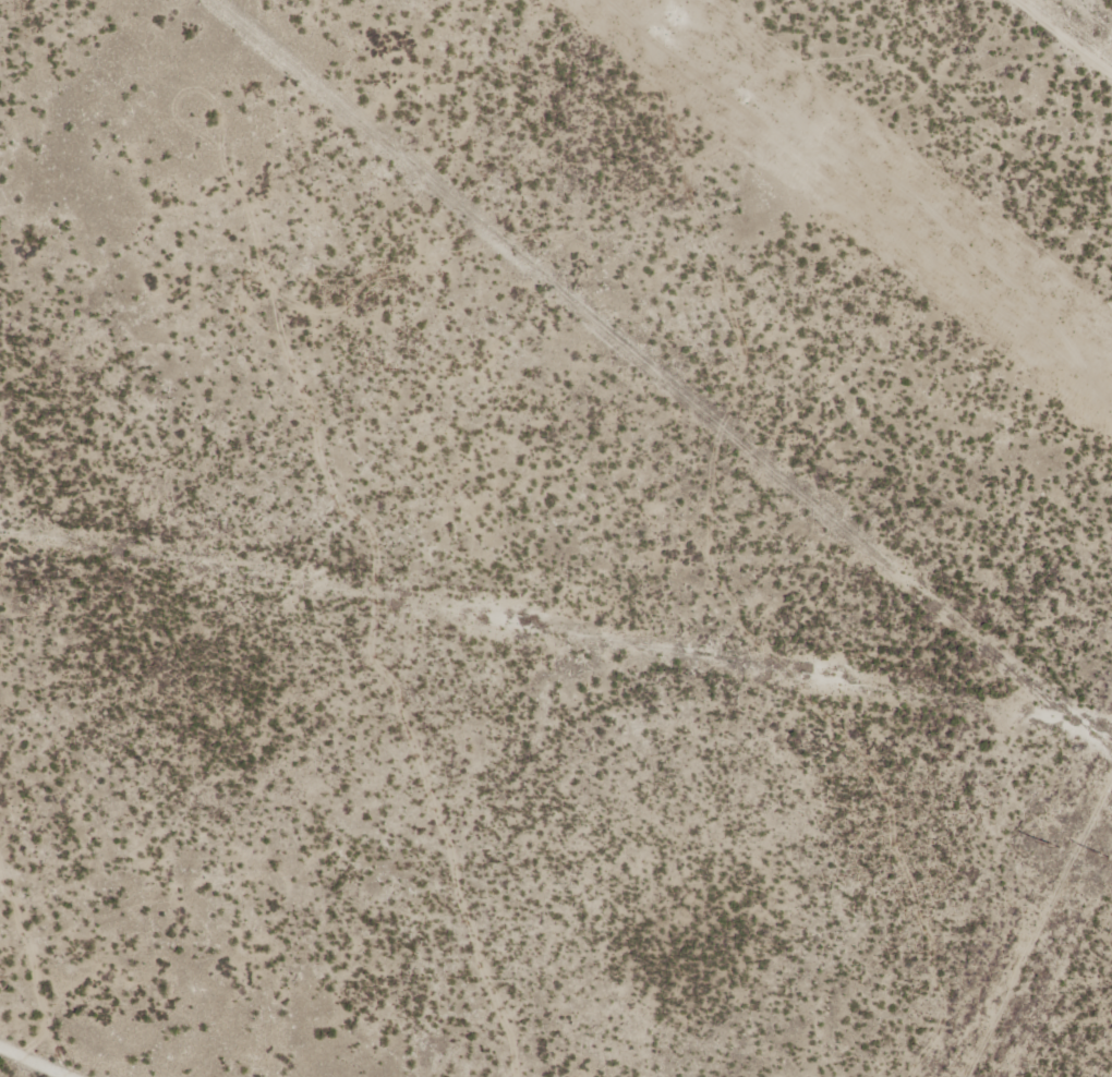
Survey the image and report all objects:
power tower: (664, 26)
power tower: (1054, 847)
power tower: (1104, 856)
road: (47, 1055)

